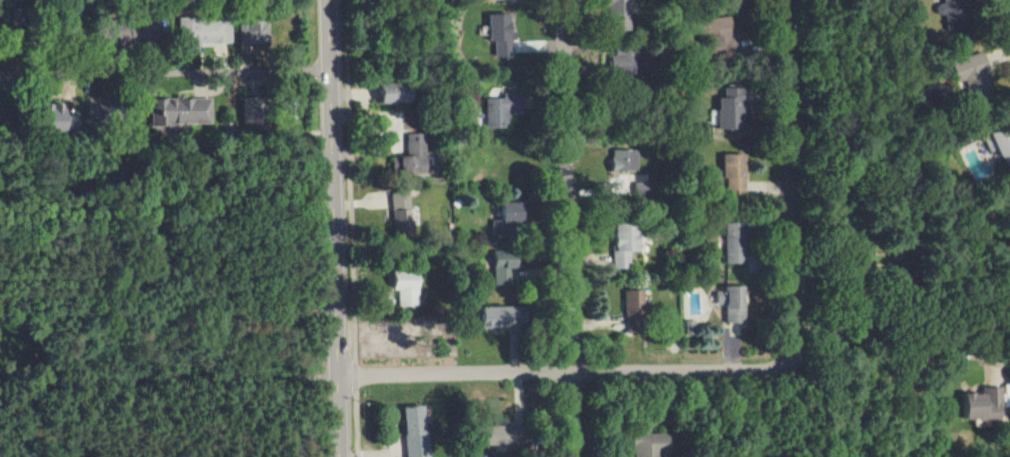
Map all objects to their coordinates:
building: (506, 0)
building: (958, 14)
building: (619, 15)
building: (203, 31)
building: (252, 32)
building: (628, 61)
building: (969, 67)
road: (165, 74)
building: (396, 93)
building: (729, 109)
building: (180, 111)
building: (252, 111)
building: (495, 113)
building: (58, 118)
building: (1003, 145)
building: (412, 155)
building: (624, 160)
building: (733, 173)
road: (790, 181)
building: (643, 190)
road: (168, 206)
building: (401, 213)
road: (168, 219)
building: (508, 221)
road: (337, 228)
road: (353, 228)
road: (565, 228)
building: (732, 241)
building: (625, 245)
building: (504, 267)
building: (406, 288)
building: (732, 303)
building: (634, 310)
building: (504, 316)
road: (569, 374)
road: (172, 376)
building: (982, 403)
building: (415, 431)
building: (649, 445)

